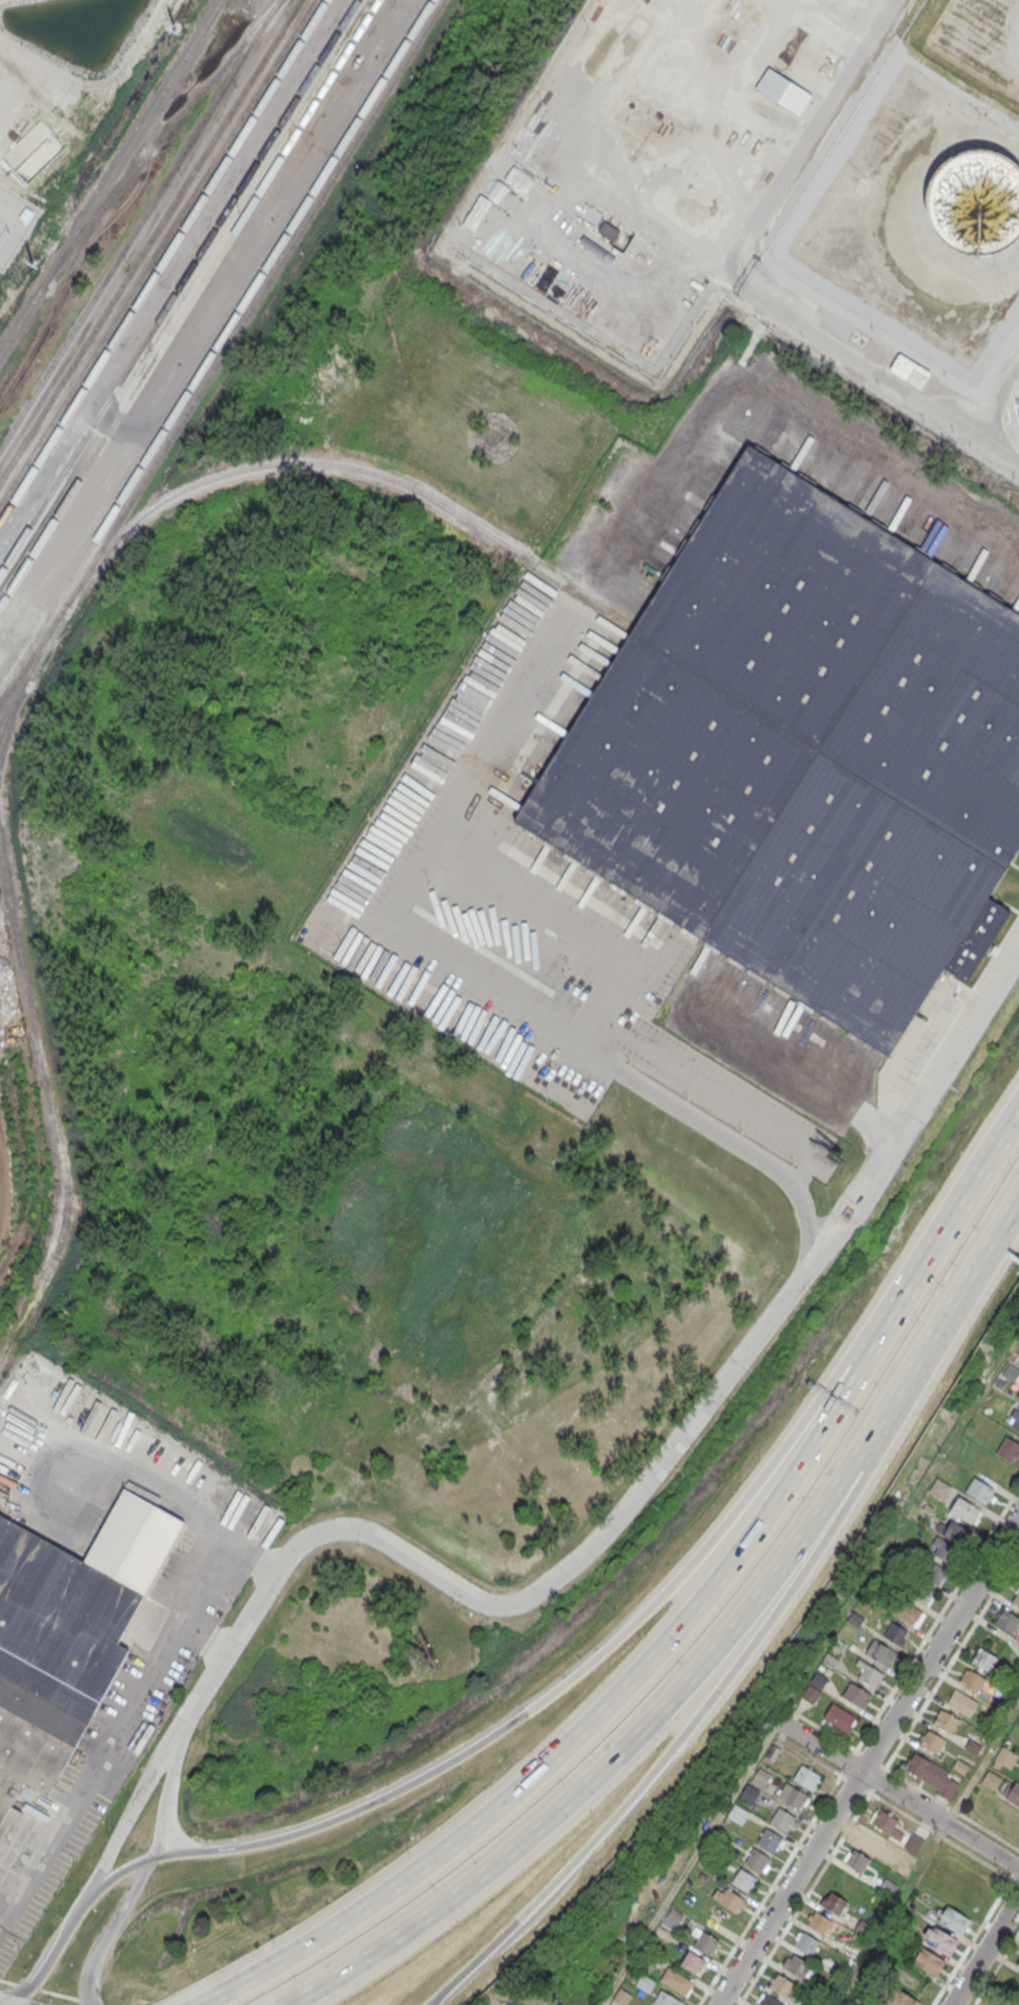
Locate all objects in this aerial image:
building: (783, 92)
road: (806, 136)
railway: (158, 140)
railway: (110, 177)
building: (979, 204)
storage tank: (979, 204)
railway: (139, 222)
building: (608, 232)
railway: (149, 240)
railway: (157, 252)
railway: (162, 260)
railway: (178, 286)
railway: (188, 303)
road: (603, 337)
railway: (215, 345)
railway: (223, 351)
road: (881, 371)
building: (909, 372)
road: (781, 395)
road: (1000, 445)
railway: (345, 467)
railway: (27, 676)
railway: (8, 721)
building: (804, 755)
road: (544, 924)
road: (489, 986)
road: (595, 1033)
road: (792, 1070)
road: (943, 1080)
road: (725, 1097)
railway: (52, 1112)
road: (840, 1206)
road: (855, 1220)
road: (948, 1220)
road: (820, 1251)
road: (987, 1256)
building: (1011, 1371)
road: (908, 1385)
building: (1016, 1423)
building: (1008, 1448)
building: (940, 1488)
building: (980, 1490)
building: (964, 1510)
building: (952, 1531)
building: (944, 1550)
building: (930, 1571)
building: (918, 1591)
building: (869, 1597)
building: (1016, 1598)
road: (510, 1604)
building: (904, 1612)
building: (856, 1618)
building: (1007, 1621)
building: (895, 1633)
building: (66, 1634)
road: (162, 1649)
building: (880, 1651)
building: (984, 1658)
building: (830, 1660)
road: (945, 1670)
building: (870, 1674)
building: (819, 1679)
building: (972, 1680)
building: (810, 1693)
building: (857, 1694)
road: (543, 1698)
building: (962, 1701)
building: (839, 1717)
building: (946, 1721)
road: (592, 1723)
building: (932, 1742)
road: (857, 1745)
building: (972, 1746)
road: (668, 1750)
building: (772, 1752)
building: (1006, 1757)
road: (867, 1761)
building: (961, 1766)
road: (603, 1767)
building: (932, 1774)
building: (808, 1776)
building: (761, 1778)
building: (991, 1779)
road: (166, 1791)
building: (751, 1792)
road: (898, 1792)
building: (1014, 1792)
building: (793, 1795)
road: (132, 1803)
road: (951, 1808)
building: (738, 1813)
building: (782, 1819)
building: (886, 1825)
building: (769, 1838)
road: (944, 1838)
building: (870, 1842)
building: (913, 1843)
road: (926, 1854)
building: (758, 1860)
building: (856, 1860)
road: (688, 1862)
building: (745, 1879)
building: (887, 1887)
road: (805, 1896)
building: (728, 1898)
building: (834, 1903)
building: (952, 1918)
building: (819, 1923)
road: (111, 1928)
building: (862, 1928)
road: (975, 1934)
building: (939, 1939)
building: (705, 1942)
building: (806, 1942)
road: (50, 1948)
building: (847, 1949)
road: (985, 1950)
building: (928, 1960)
building: (693, 1962)
building: (1018, 1965)
building: (797, 1966)
road: (996, 1968)
building: (836, 1971)
building: (676, 1980)
building: (644, 1982)
building: (780, 1983)
building: (621, 1996)
road: (517, 1997)
building: (897, 1997)
building: (663, 1998)
building: (767, 2000)
road: (429, 2003)
road: (430, 2003)
building: (510, 2004)
building: (879, 2004)

